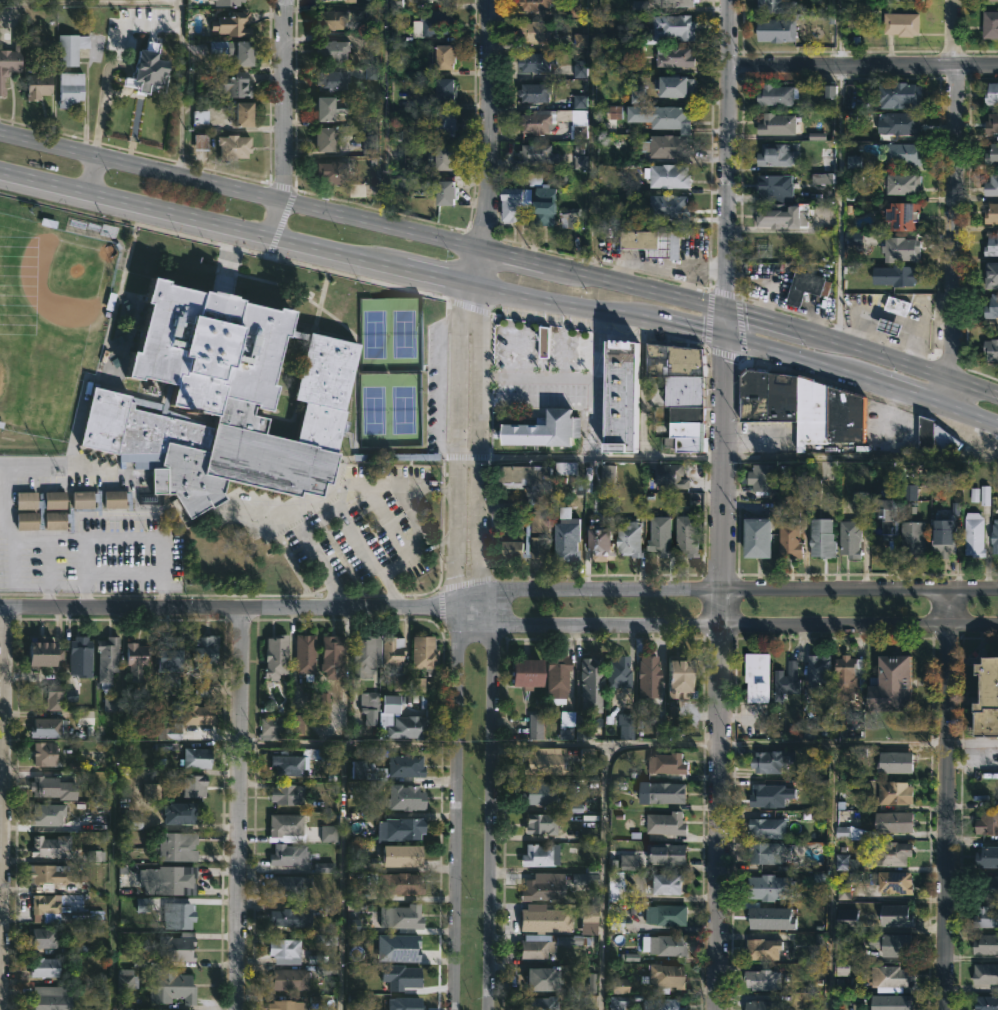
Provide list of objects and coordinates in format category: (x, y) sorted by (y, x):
building: (352, 0)
building: (902, 0)
building: (990, 0)
building: (429, 1)
building: (228, 2)
road: (90, 3)
building: (671, 3)
building: (532, 5)
building: (775, 6)
building: (331, 19)
building: (435, 23)
building: (899, 23)
building: (233, 24)
building: (989, 24)
building: (676, 25)
building: (774, 30)
building: (532, 31)
road: (839, 33)
building: (236, 49)
building: (335, 49)
building: (67, 51)
building: (450, 56)
building: (677, 56)
building: (11, 58)
building: (531, 61)
road: (863, 65)
road: (112, 67)
building: (151, 71)
building: (335, 79)
building: (236, 84)
building: (39, 85)
building: (671, 86)
building: (71, 88)
building: (449, 89)
road: (180, 90)
building: (535, 92)
building: (990, 93)
building: (774, 95)
building: (896, 95)
building: (330, 107)
building: (246, 113)
road: (382, 114)
road: (284, 120)
building: (533, 121)
building: (451, 122)
building: (897, 123)
building: (576, 124)
building: (774, 124)
building: (990, 124)
road: (489, 125)
building: (666, 134)
building: (328, 138)
road: (592, 138)
building: (370, 143)
building: (234, 145)
building: (533, 152)
building: (899, 154)
building: (990, 154)
building: (774, 155)
building: (448, 157)
building: (335, 173)
road: (90, 175)
building: (671, 175)
building: (900, 184)
building: (990, 185)
building: (772, 187)
building: (449, 192)
building: (516, 201)
road: (840, 204)
building: (541, 206)
road: (957, 206)
building: (673, 207)
building: (990, 214)
building: (780, 216)
building: (901, 216)
building: (566, 218)
building: (650, 241)
building: (991, 246)
building: (899, 250)
road: (502, 256)
building: (990, 275)
building: (894, 276)
building: (804, 287)
road: (501, 292)
road: (727, 295)
building: (895, 305)
building: (990, 306)
traffic signals: (726, 312)
park: (50, 323)
building: (892, 327)
park: (390, 336)
road: (527, 337)
road: (562, 341)
traffic signals: (726, 343)
road: (592, 345)
building: (990, 350)
road: (506, 353)
road: (536, 377)
building: (680, 394)
building: (627, 395)
building: (227, 401)
park: (391, 410)
building: (791, 414)
road: (591, 417)
road: (458, 426)
building: (549, 429)
road: (480, 437)
building: (934, 440)
building: (397, 457)
road: (592, 457)
building: (568, 469)
building: (608, 476)
building: (762, 476)
building: (669, 477)
road: (398, 485)
building: (86, 500)
building: (117, 500)
building: (30, 501)
building: (57, 501)
building: (530, 511)
building: (884, 516)
building: (30, 521)
building: (58, 521)
building: (972, 535)
building: (564, 536)
building: (663, 536)
building: (690, 536)
building: (993, 537)
building: (633, 538)
building: (753, 539)
building: (819, 539)
building: (847, 539)
building: (940, 539)
building: (911, 540)
building: (787, 542)
building: (605, 544)
road: (310, 547)
road: (37, 581)
road: (724, 591)
road: (47, 593)
road: (84, 593)
road: (227, 607)
road: (725, 624)
building: (47, 651)
building: (205, 651)
building: (394, 651)
building: (307, 652)
building: (426, 653)
building: (136, 654)
building: (81, 655)
building: (365, 655)
building: (277, 656)
building: (334, 657)
building: (107, 658)
building: (169, 660)
building: (815, 668)
building: (614, 670)
building: (783, 674)
building: (645, 675)
building: (844, 675)
building: (546, 676)
building: (685, 677)
building: (757, 677)
building: (588, 682)
building: (887, 683)
building: (203, 691)
building: (55, 697)
building: (370, 700)
building: (986, 701)
building: (141, 706)
building: (200, 713)
building: (567, 724)
building: (410, 725)
building: (533, 725)
building: (626, 725)
building: (48, 727)
building: (270, 727)
building: (582, 729)
building: (170, 731)
road: (973, 741)
road: (664, 742)
road: (835, 743)
road: (401, 745)
building: (47, 753)
building: (198, 756)
building: (541, 760)
building: (769, 760)
building: (892, 761)
building: (665, 762)
building: (289, 763)
building: (407, 764)
building: (367, 769)
building: (194, 784)
building: (55, 787)
building: (666, 791)
building: (289, 792)
building: (892, 792)
building: (541, 793)
building: (768, 795)
building: (405, 796)
road: (720, 800)
road: (948, 800)
road: (2, 808)
road: (239, 808)
road: (459, 808)
building: (180, 811)
building: (46, 815)
road: (492, 816)
road: (604, 819)
building: (891, 821)
building: (538, 822)
building: (287, 823)
building: (664, 823)
building: (986, 823)
road: (342, 826)
building: (765, 827)
building: (403, 828)
building: (852, 833)
building: (50, 845)
building: (179, 845)
building: (766, 851)
building: (290, 853)
building: (887, 853)
building: (406, 854)
building: (538, 854)
building: (667, 854)
building: (986, 856)
building: (846, 861)
building: (52, 872)
road: (829, 877)
building: (172, 879)
building: (893, 881)
building: (673, 882)
building: (402, 883)
building: (285, 885)
building: (613, 885)
building: (766, 887)
building: (986, 887)
building: (537, 890)
building: (46, 903)
building: (670, 914)
building: (179, 915)
building: (893, 915)
building: (292, 916)
building: (403, 916)
building: (984, 917)
building: (543, 918)
building: (587, 919)
building: (761, 919)
building: (845, 919)
building: (46, 937)
building: (545, 944)
building: (661, 944)
building: (984, 944)
building: (403, 946)
building: (881, 946)
building: (173, 947)
building: (285, 947)
building: (767, 947)
building: (49, 966)
building: (984, 974)
building: (661, 975)
building: (888, 976)
building: (410, 977)
building: (539, 978)
building: (289, 979)
building: (760, 979)
building: (127, 980)
building: (172, 985)
building: (52, 1002)
building: (893, 1002)
building: (985, 1002)
building: (406, 1003)
building: (534, 1003)
building: (664, 1004)
building: (285, 1005)
building: (761, 1005)
building: (178, 1009)

